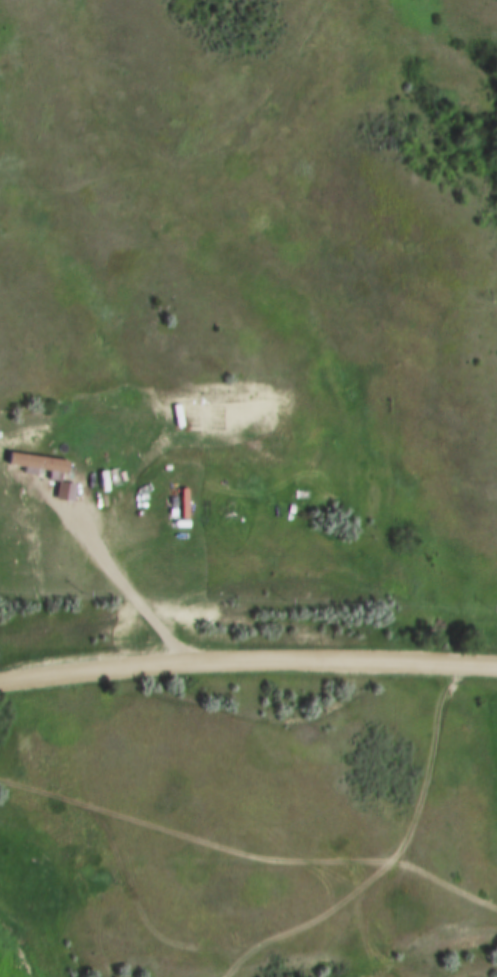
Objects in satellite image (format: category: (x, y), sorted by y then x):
building: (40, 465)
road: (124, 591)
road: (247, 662)

